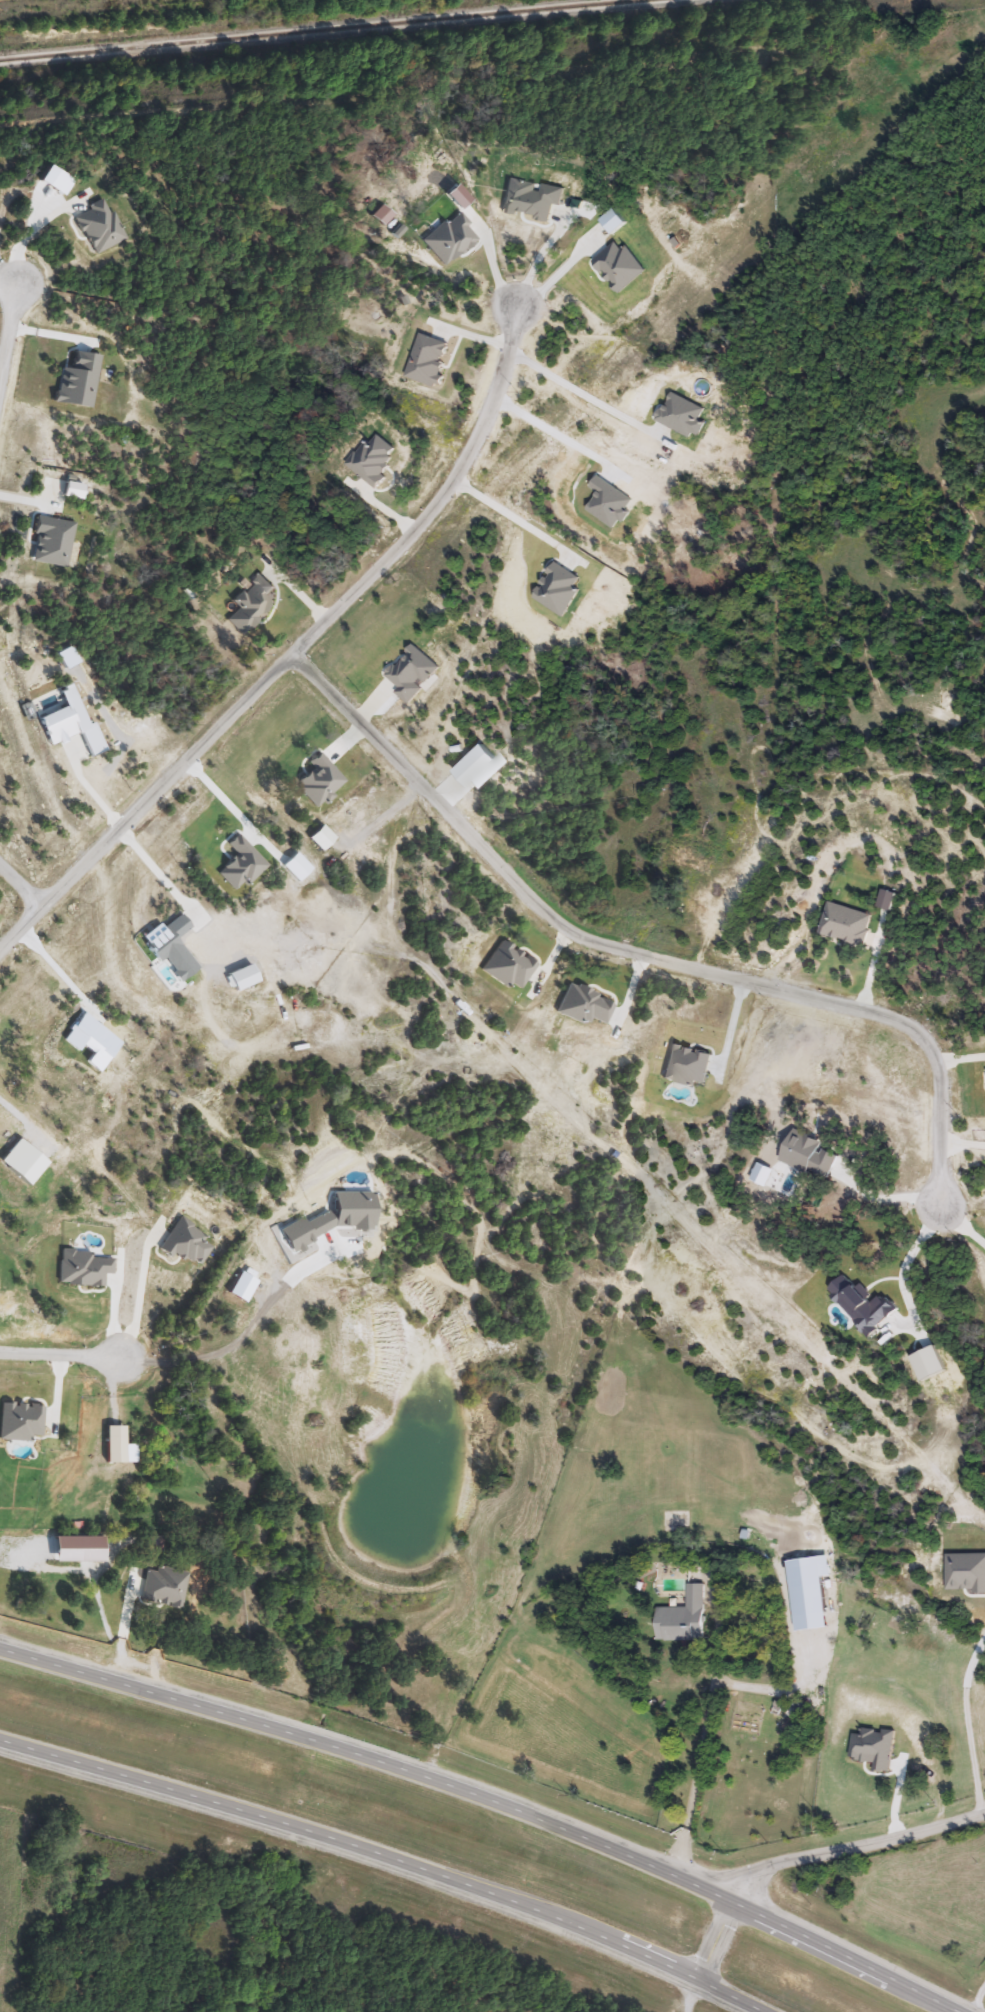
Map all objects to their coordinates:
railway: (328, 30)
road: (27, 234)
road: (558, 270)
road: (5, 316)
road: (568, 382)
road: (555, 432)
road: (496, 498)
road: (292, 647)
road: (86, 785)
road: (222, 797)
road: (153, 866)
road: (19, 884)
road: (636, 951)
road: (55, 966)
road: (730, 1022)
road: (25, 1117)
road: (883, 1198)
road: (958, 1221)
road: (900, 1267)
road: (140, 1289)
road: (247, 1327)
road: (59, 1353)
building: (202, 1582)
building: (681, 1617)
building: (903, 1631)
road: (970, 1725)
road: (698, 1742)
road: (313, 1746)
road: (355, 1843)
road: (886, 1843)
road: (680, 1877)
road: (757, 1878)
road: (719, 1940)
road: (849, 1957)
road: (732, 1995)

